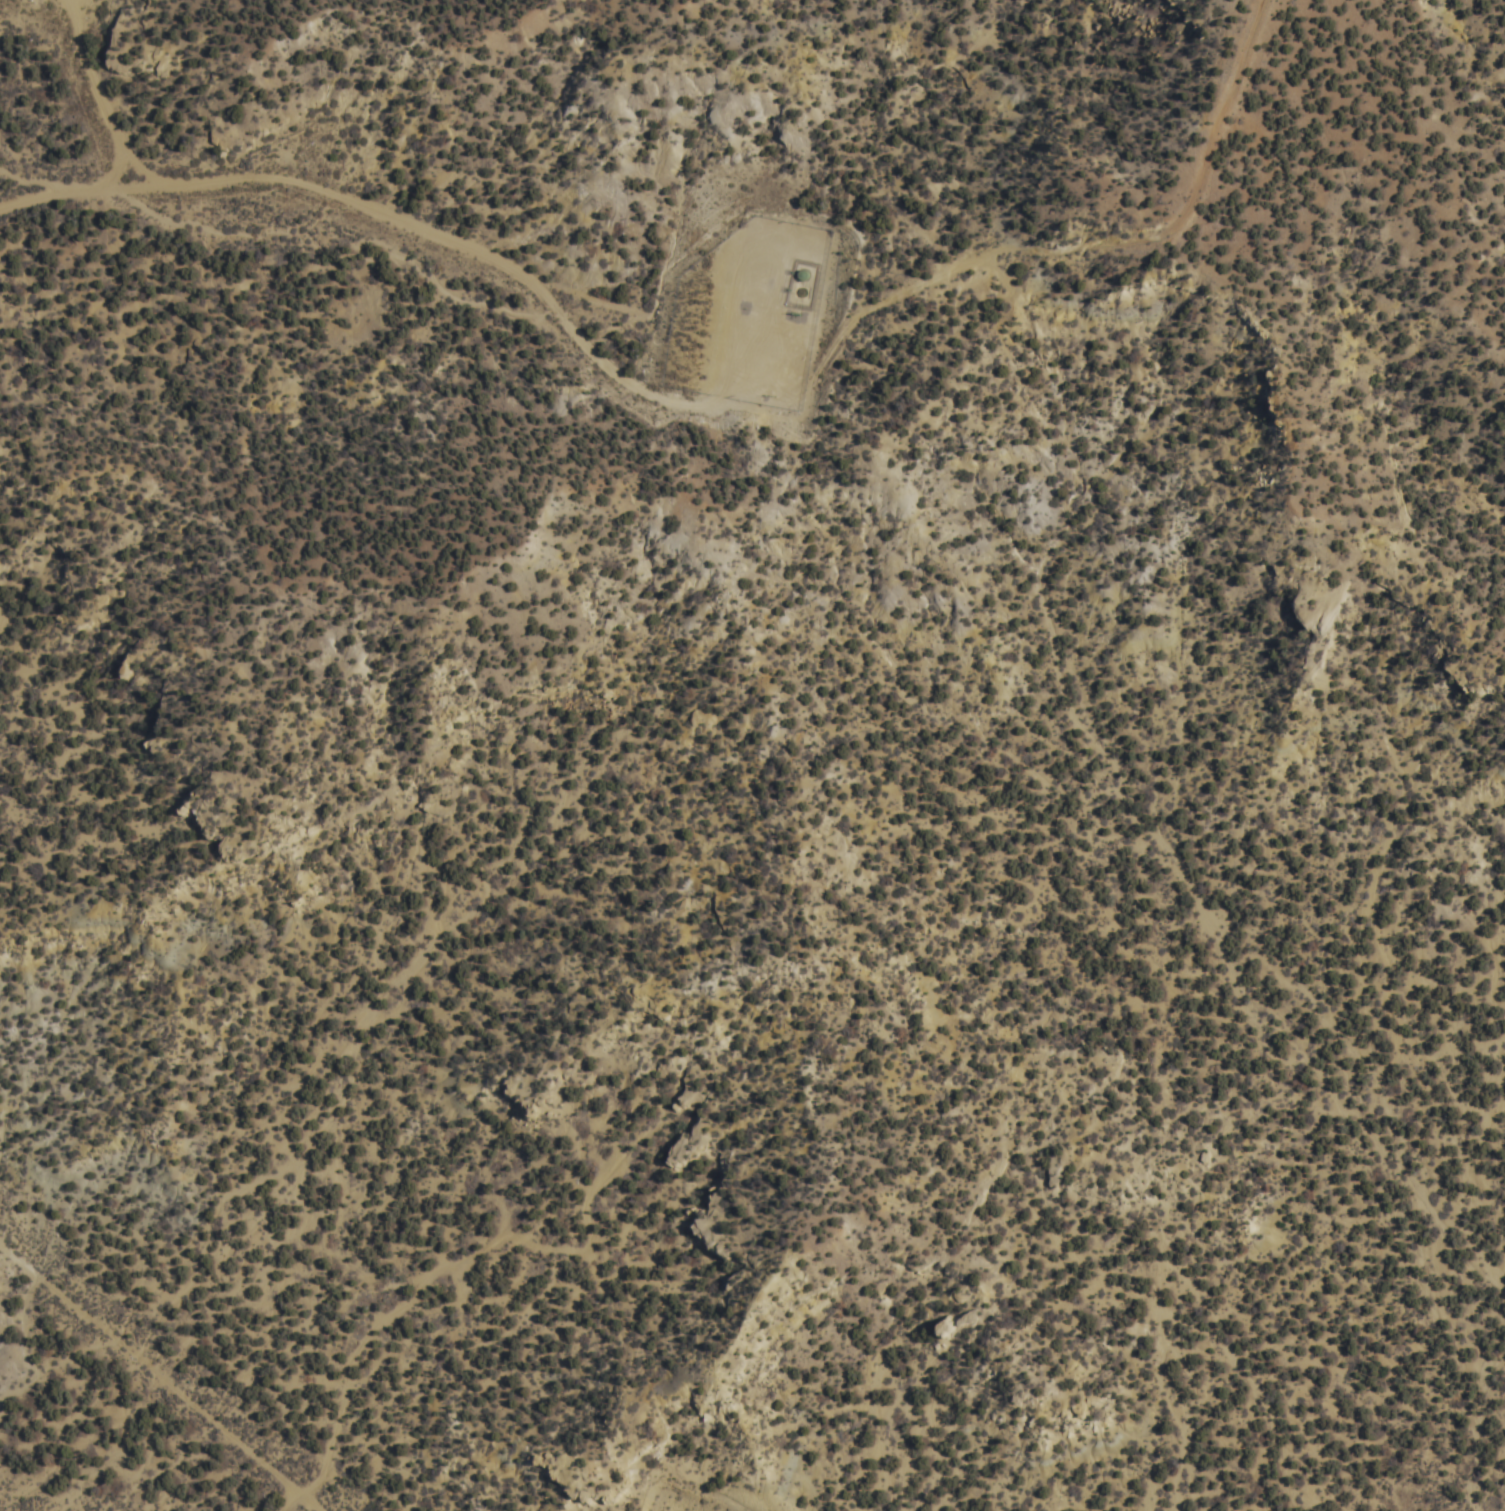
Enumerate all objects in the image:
road: (76, 1)
road: (77, 1)
road: (109, 97)
road: (145, 165)
road: (391, 212)
road: (1022, 245)
road: (771, 260)
road: (427, 1280)
road: (165, 1372)

